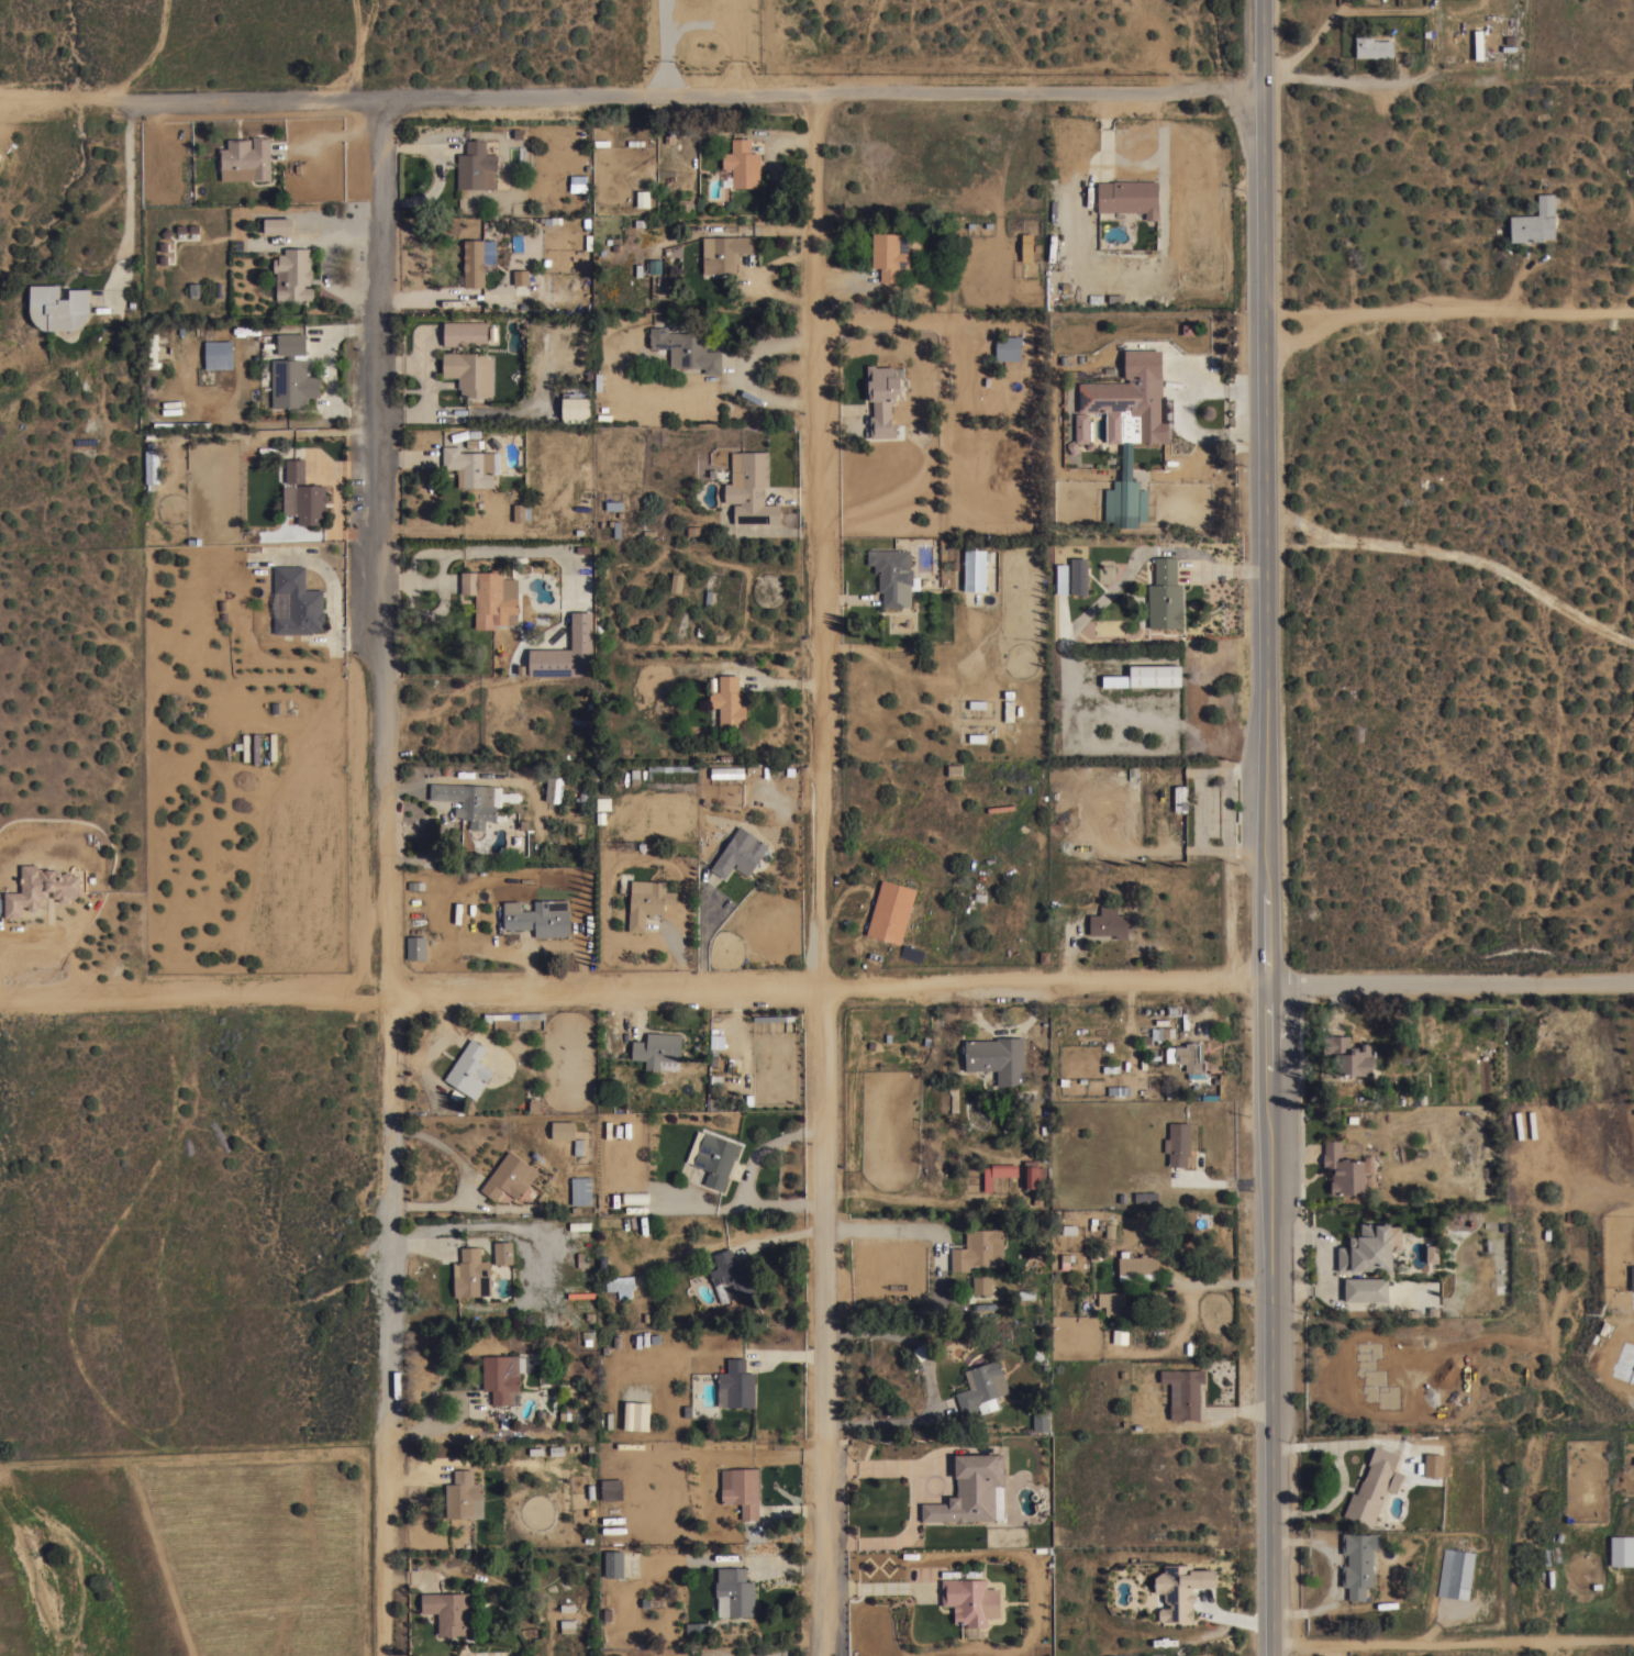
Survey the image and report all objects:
road: (1340, 11)
building: (1372, 46)
road: (1388, 79)
road: (682, 92)
road: (47, 99)
building: (515, 136)
building: (245, 159)
building: (741, 164)
building: (476, 166)
building: (1129, 197)
building: (685, 204)
building: (1534, 221)
building: (278, 224)
building: (1026, 246)
building: (724, 252)
building: (160, 253)
building: (889, 254)
building: (474, 263)
building: (293, 274)
building: (521, 277)
building: (58, 307)
road: (1452, 312)
building: (464, 333)
building: (291, 343)
building: (153, 346)
building: (1008, 347)
building: (686, 348)
building: (219, 355)
road: (745, 370)
building: (469, 373)
building: (292, 382)
building: (885, 397)
building: (576, 408)
building: (1129, 426)
building: (1079, 431)
building: (152, 456)
building: (471, 466)
building: (294, 470)
building: (751, 488)
building: (289, 499)
building: (311, 503)
building: (613, 504)
building: (521, 512)
building: (615, 526)
building: (975, 568)
building: (893, 576)
building: (1078, 576)
building: (676, 581)
building: (1165, 594)
building: (491, 597)
building: (298, 601)
building: (566, 652)
building: (1155, 675)
building: (730, 701)
building: (1009, 710)
building: (671, 767)
building: (954, 769)
building: (726, 771)
building: (553, 788)
building: (1179, 798)
building: (581, 799)
building: (475, 802)
building: (603, 803)
road: (1274, 827)
building: (518, 841)
building: (738, 853)
road: (819, 874)
road: (389, 876)
building: (415, 885)
building: (40, 888)
building: (646, 901)
building: (890, 911)
building: (538, 916)
building: (1109, 922)
building: (416, 947)
road: (1455, 975)
road: (637, 987)
building: (519, 1015)
building: (1431, 1027)
building: (713, 1032)
building: (1163, 1034)
building: (658, 1051)
building: (1187, 1055)
building: (997, 1057)
building: (1352, 1058)
building: (469, 1069)
building: (1119, 1089)
building: (714, 1103)
building: (1532, 1123)
building: (1519, 1124)
building: (566, 1133)
building: (1178, 1144)
building: (714, 1158)
building: (1343, 1169)
building: (998, 1172)
building: (1032, 1172)
building: (509, 1176)
building: (580, 1190)
building: (1145, 1196)
building: (635, 1197)
road: (881, 1219)
building: (579, 1225)
building: (1070, 1229)
building: (978, 1248)
building: (1369, 1248)
building: (503, 1252)
building: (1432, 1253)
building: (1136, 1266)
building: (471, 1272)
building: (731, 1276)
building: (1632, 1278)
road: (1219, 1281)
building: (620, 1282)
building: (981, 1283)
building: (1366, 1288)
building: (1026, 1293)
building: (580, 1294)
building: (1111, 1301)
building: (501, 1376)
building: (736, 1385)
building: (982, 1387)
building: (1183, 1391)
building: (1041, 1419)
building: (1434, 1464)
building: (1372, 1487)
building: (612, 1489)
building: (971, 1490)
building: (743, 1491)
building: (464, 1496)
road: (913, 1499)
building: (1622, 1549)
building: (1358, 1561)
building: (613, 1565)
building: (1455, 1572)
building: (1179, 1589)
building: (734, 1592)
building: (970, 1600)
building: (447, 1611)
building: (567, 1625)
building: (694, 1629)
road: (1450, 1643)

